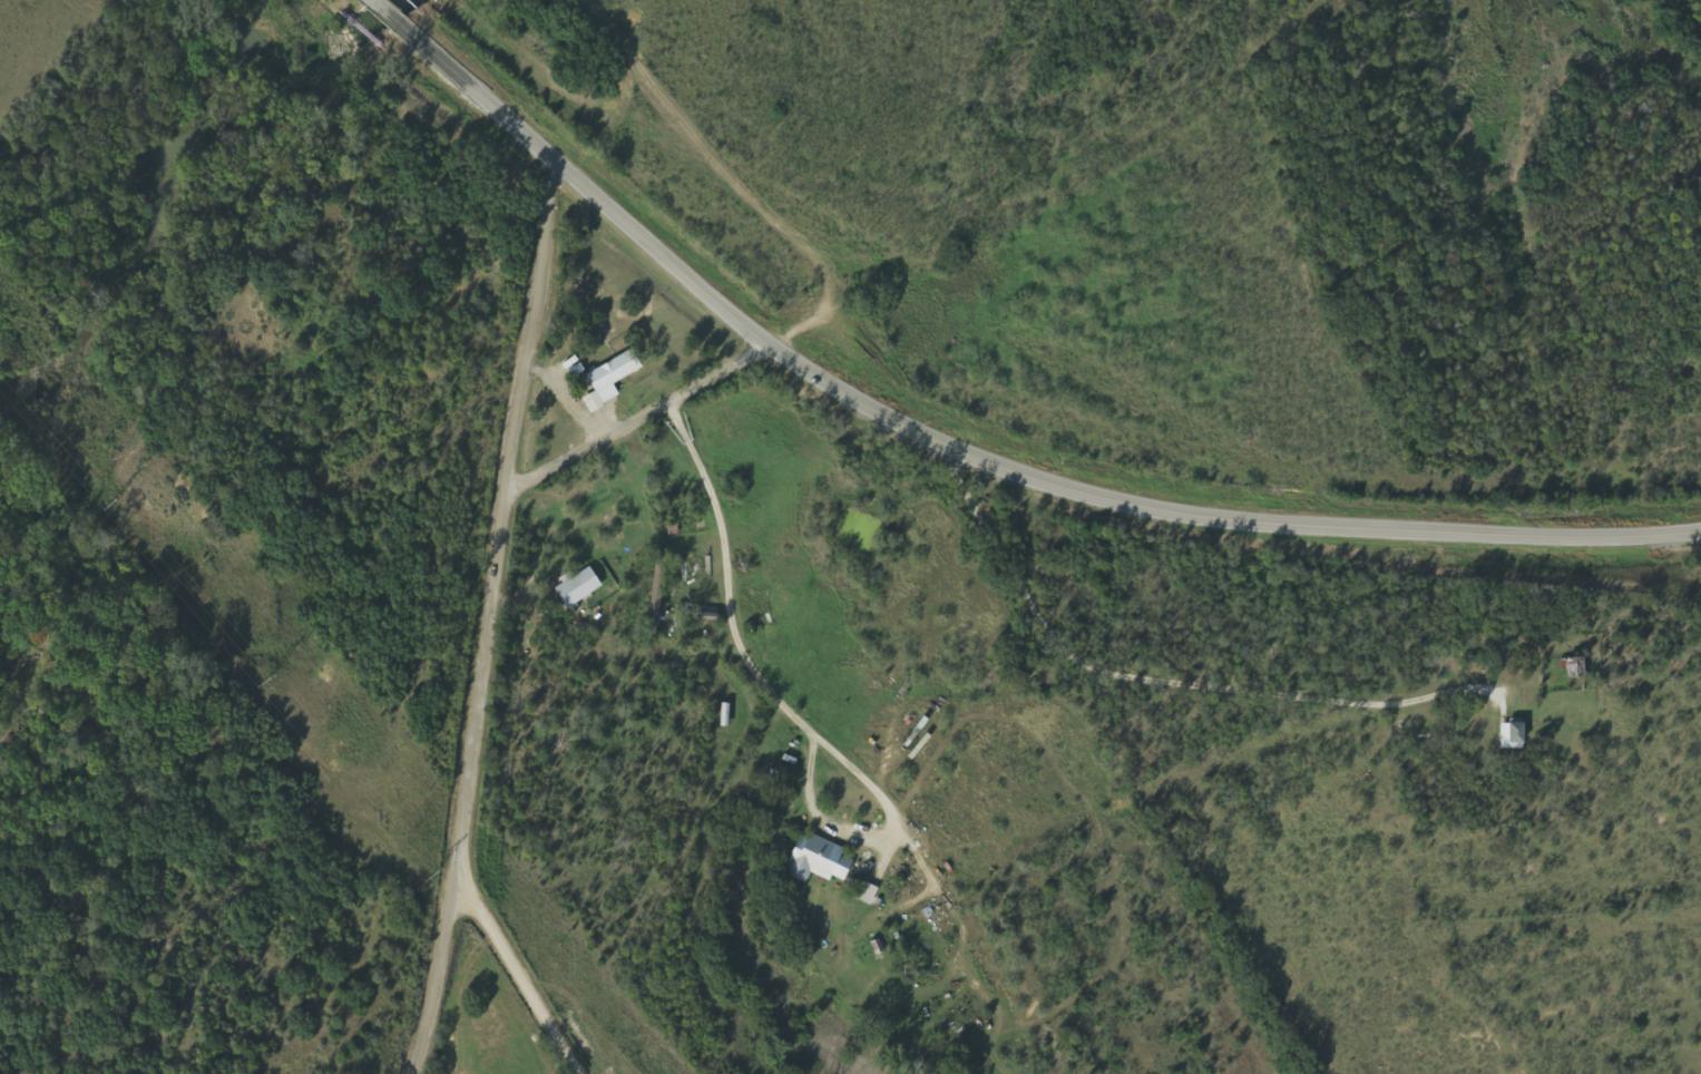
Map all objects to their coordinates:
road: (361, 2)
road: (884, 277)
building: (613, 379)
road: (958, 457)
power tower: (115, 500)
building: (579, 587)
road: (726, 618)
road: (488, 622)
building: (1578, 667)
power tower: (270, 678)
building: (1515, 735)
building: (820, 860)
power tower: (437, 871)
building: (866, 892)
road: (517, 976)

